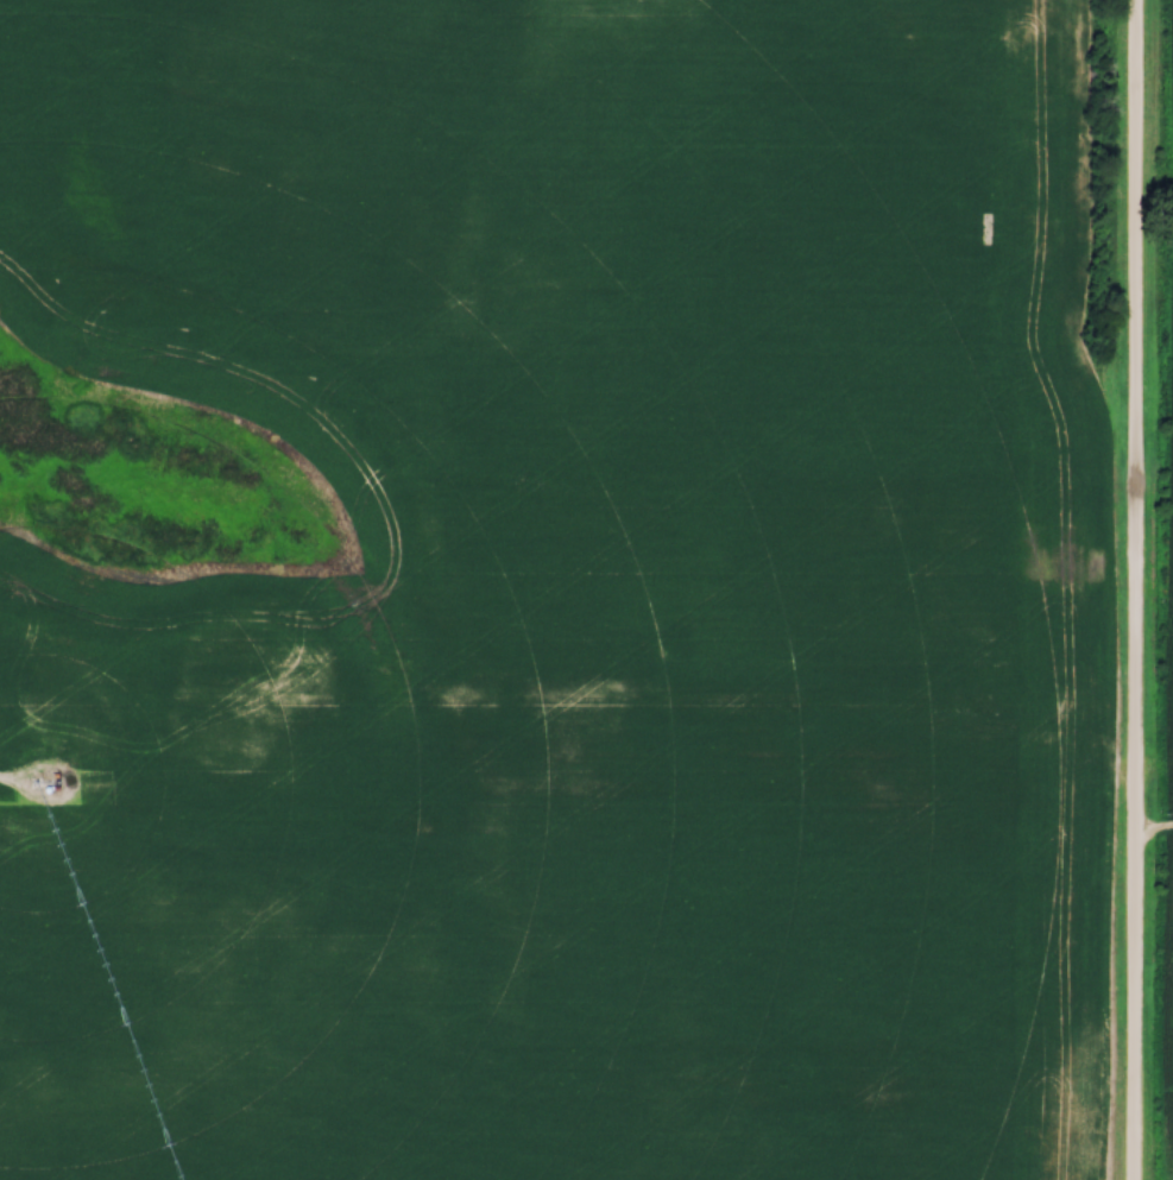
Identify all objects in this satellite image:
road: (1136, 589)

